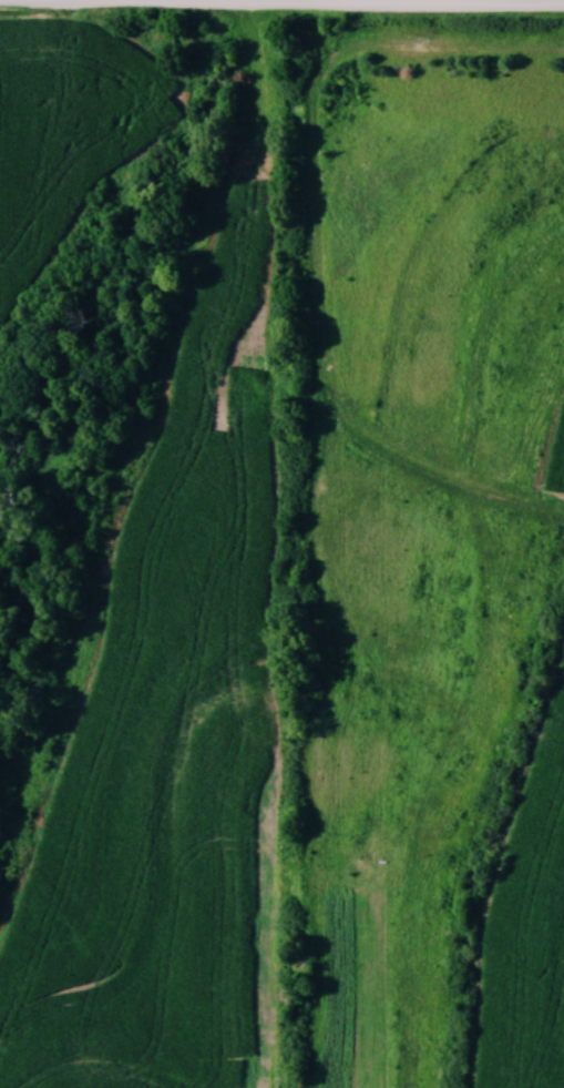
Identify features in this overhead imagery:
road: (281, 7)

